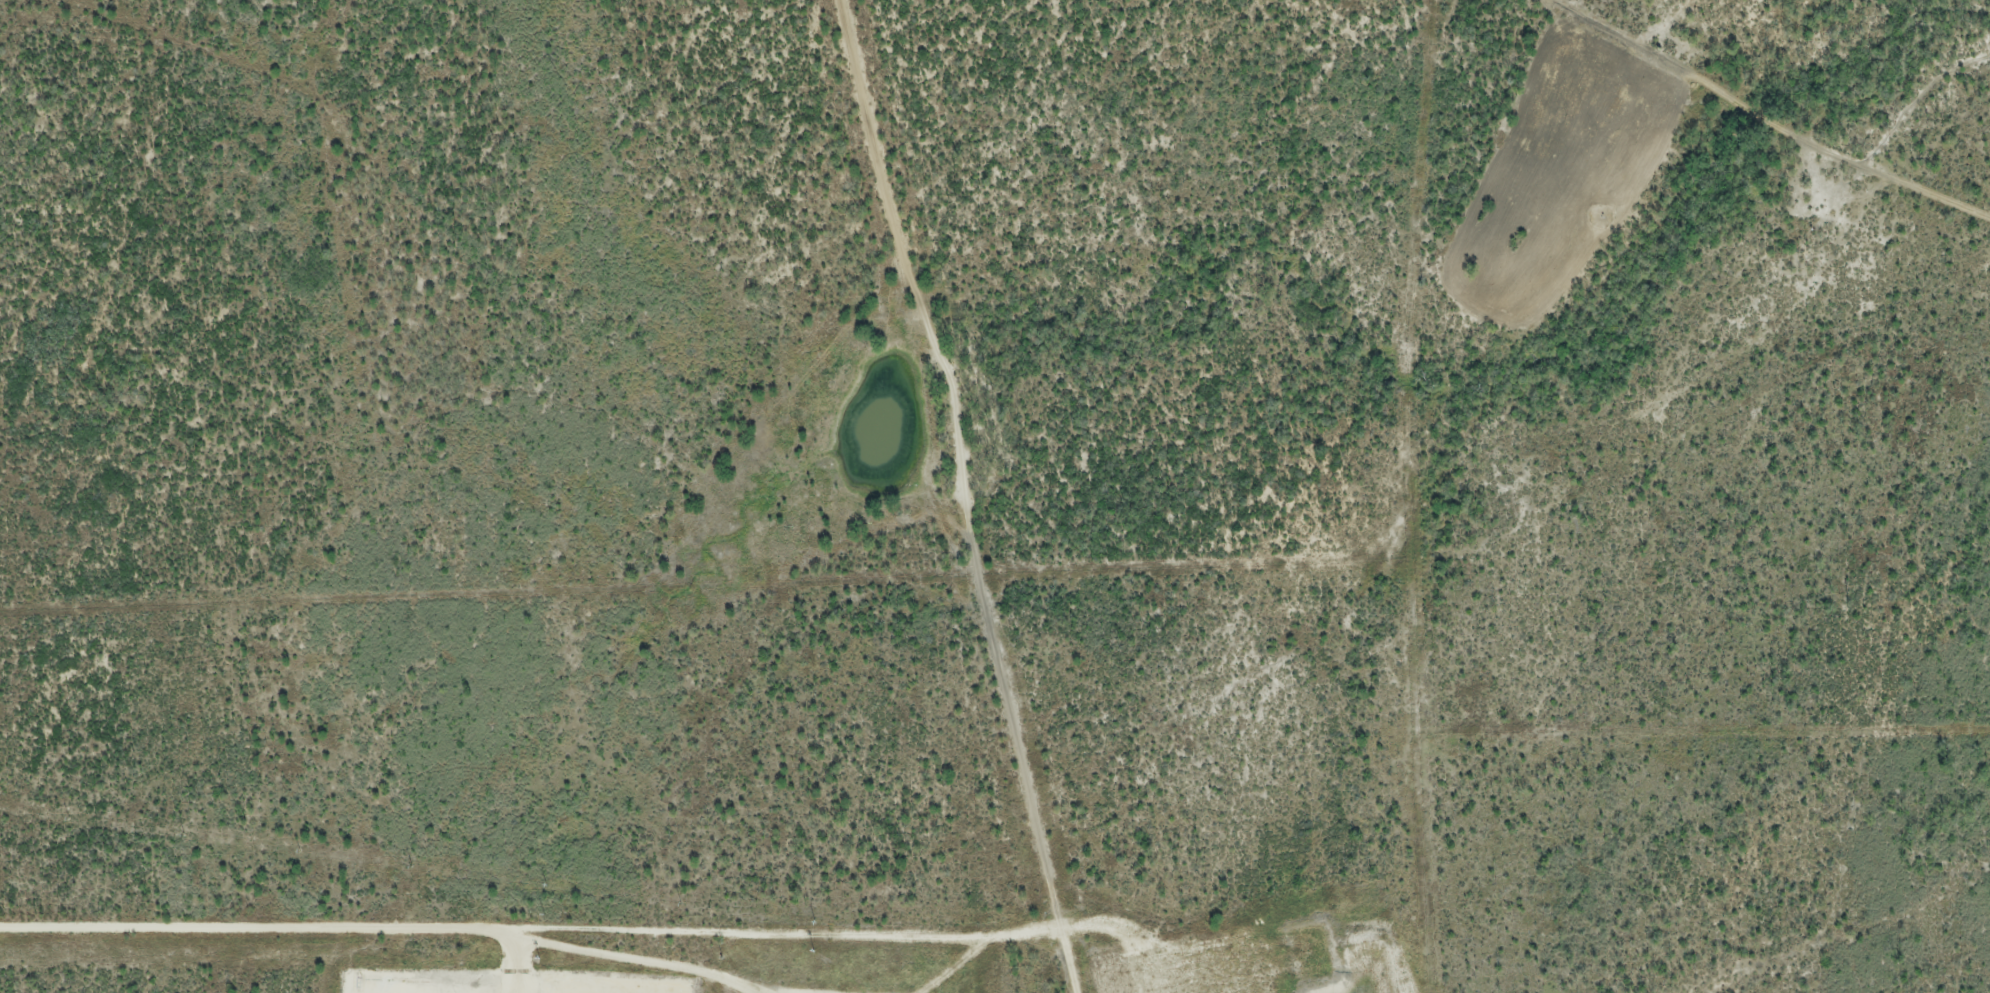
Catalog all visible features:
road: (570, 928)
road: (511, 960)

